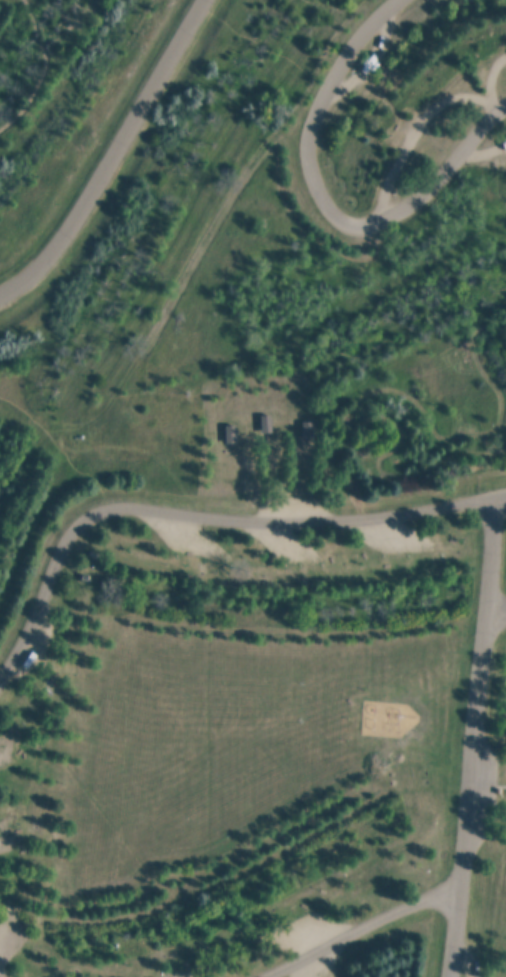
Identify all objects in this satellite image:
road: (45, 73)
road: (113, 158)
road: (323, 206)
building: (266, 424)
building: (308, 431)
building: (230, 434)
park: (253, 488)
road: (501, 496)
road: (197, 512)
road: (497, 606)
road: (478, 737)
road: (362, 926)
road: (2, 971)
road: (2, 971)

